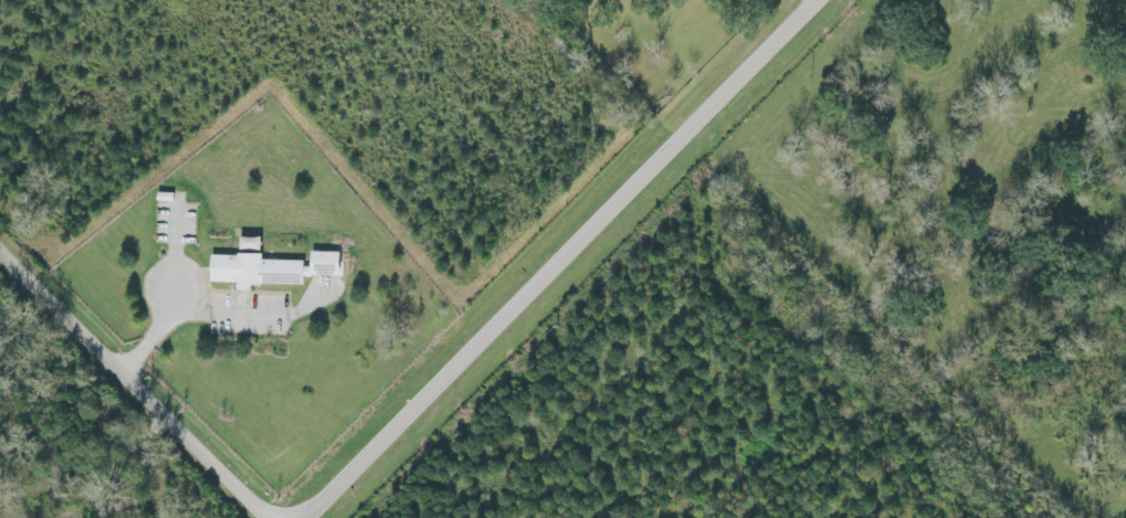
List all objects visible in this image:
road: (814, 2)
road: (569, 258)
building: (319, 265)
building: (251, 272)
road: (135, 380)

